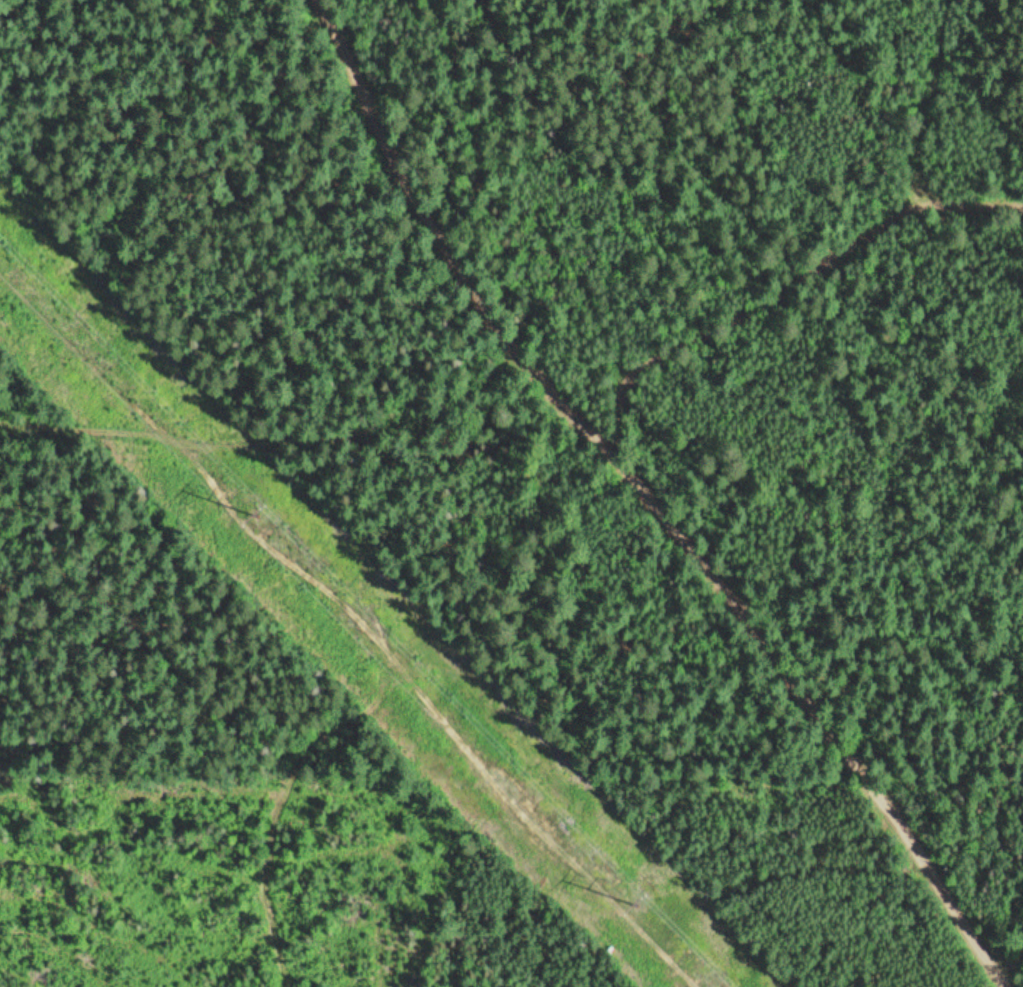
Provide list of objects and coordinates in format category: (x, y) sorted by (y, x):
road: (857, 371)
road: (675, 487)
power tower: (257, 515)
power tower: (639, 907)

